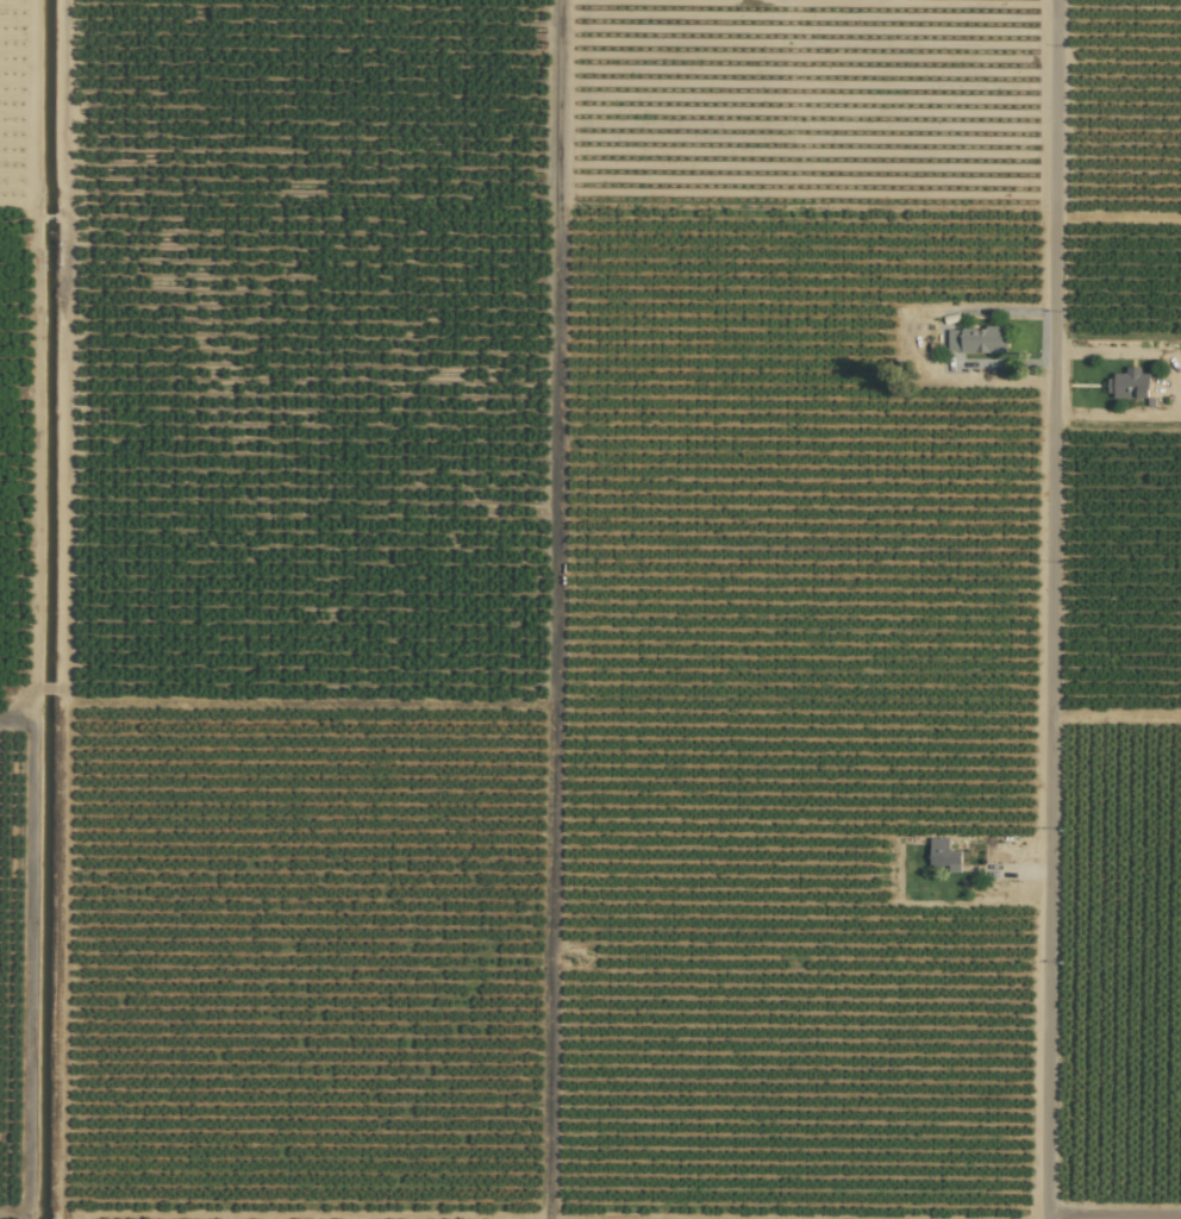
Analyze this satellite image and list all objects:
building: (975, 339)
building: (1130, 383)
road: (1043, 609)
building: (943, 855)
road: (1108, 1218)

